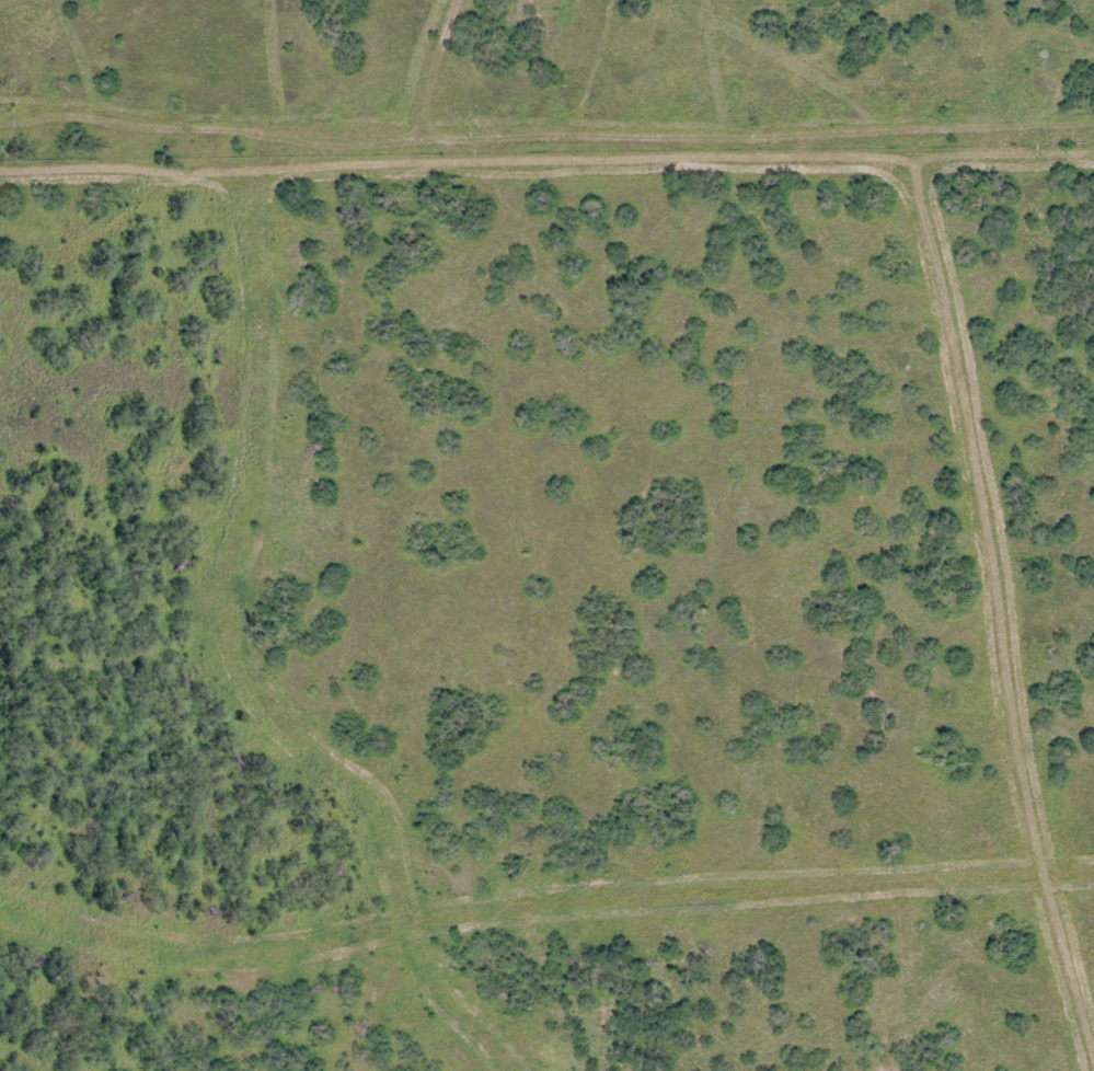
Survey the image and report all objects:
road: (545, 369)
road: (961, 703)

